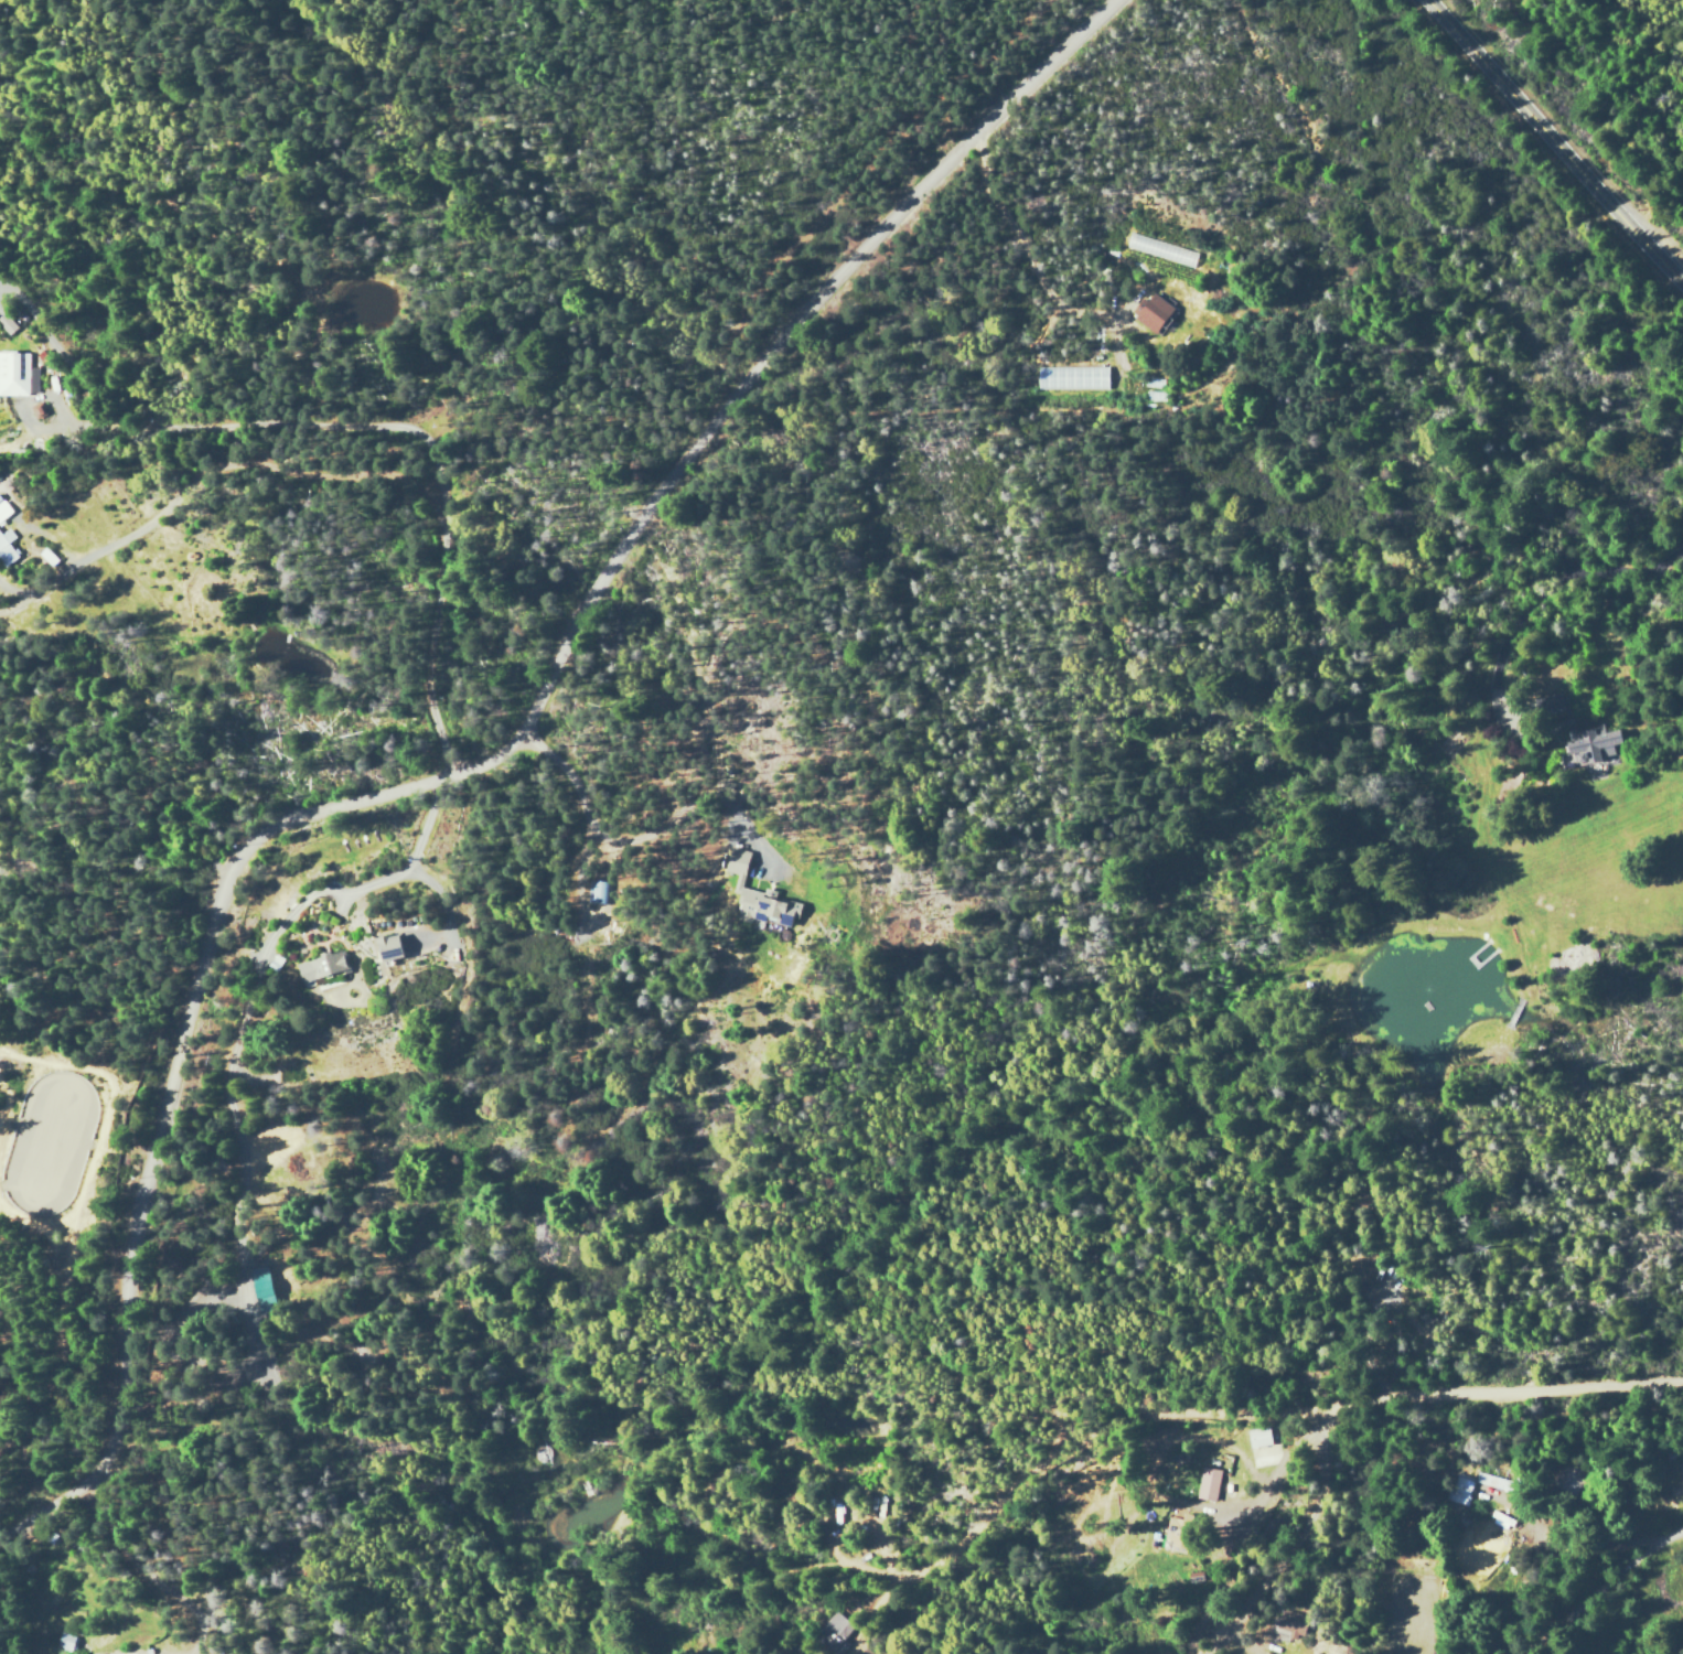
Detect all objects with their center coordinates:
road: (1553, 143)
building: (1149, 311)
building: (9, 323)
building: (15, 373)
building: (1070, 377)
building: (3, 508)
building: (6, 547)
building: (1591, 744)
road: (476, 767)
building: (754, 895)
building: (380, 946)
building: (318, 964)
road: (1505, 1395)
road: (1126, 1418)
building: (1253, 1439)
building: (1488, 1480)
building: (1207, 1483)
building: (1459, 1490)
road: (1641, 1596)
building: (1289, 1623)
building: (830, 1630)

